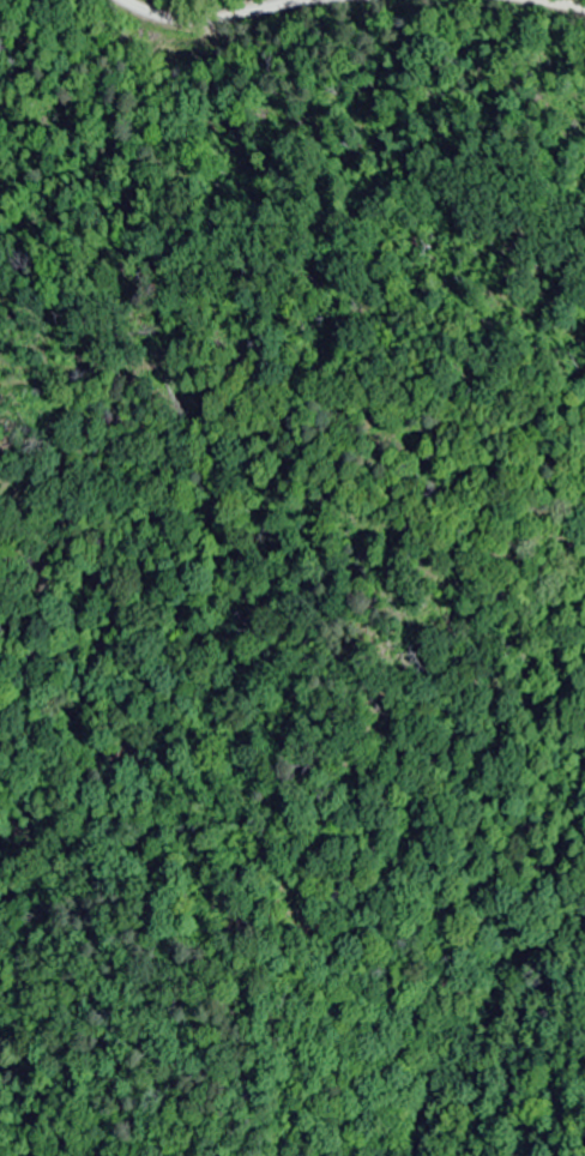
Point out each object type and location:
road: (197, 7)

